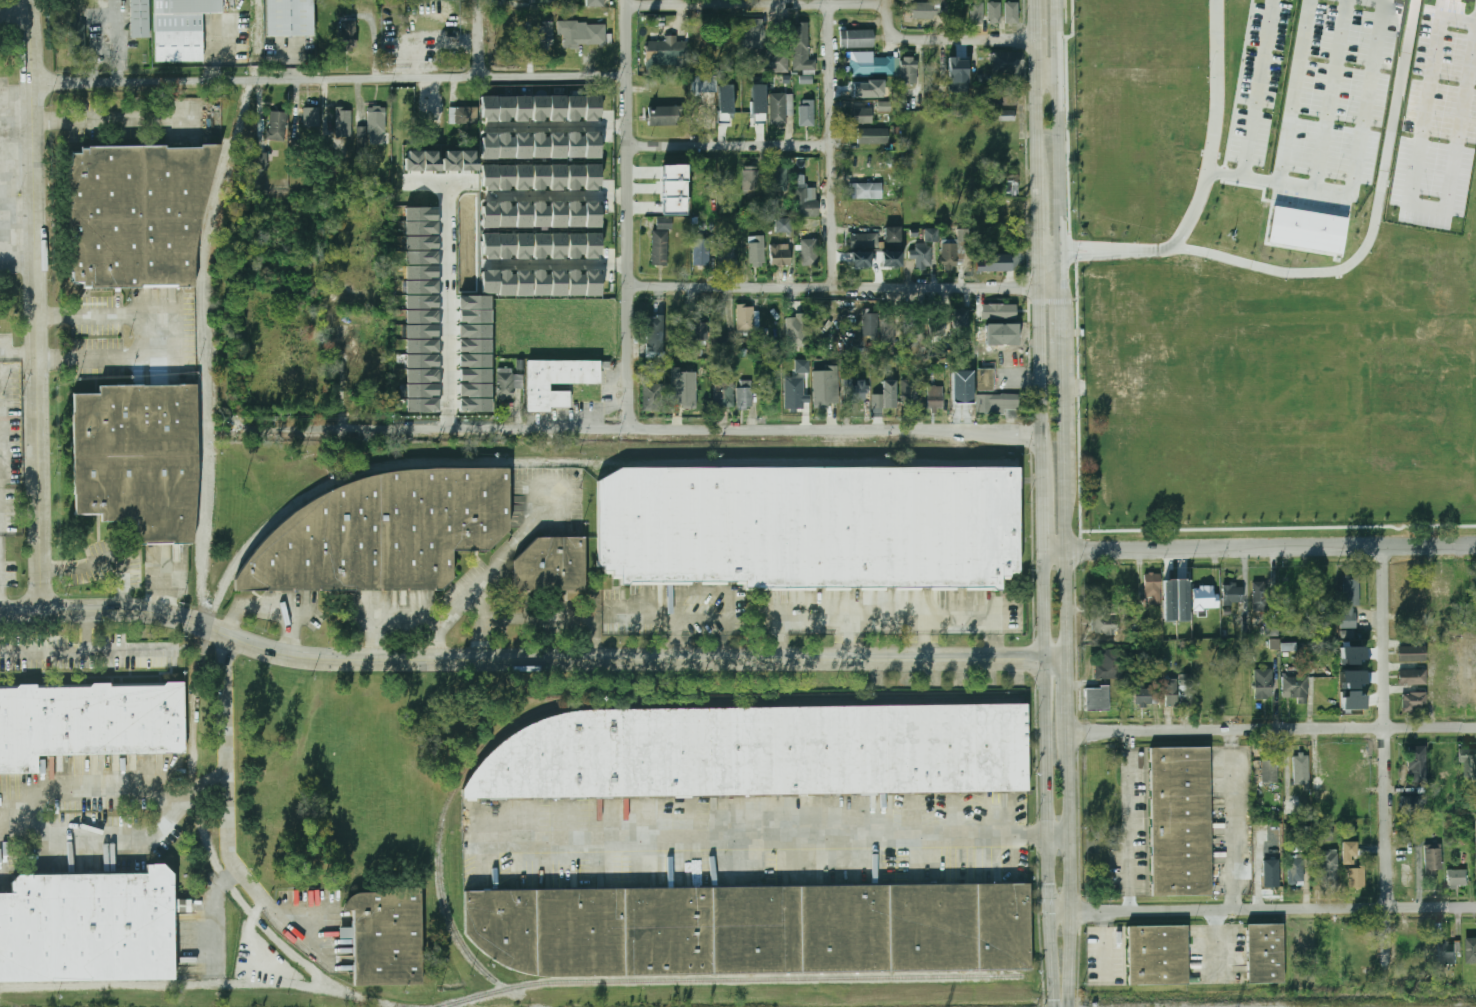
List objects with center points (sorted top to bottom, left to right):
building: (525, 0)
building: (594, 3)
road: (888, 3)
road: (758, 5)
building: (187, 6)
building: (438, 9)
building: (922, 11)
building: (976, 12)
building: (994, 13)
building: (1012, 13)
building: (139, 18)
building: (291, 18)
road: (1036, 19)
building: (583, 34)
building: (753, 34)
building: (544, 35)
building: (348, 36)
building: (178, 38)
road: (481, 38)
building: (857, 38)
road: (949, 40)
building: (714, 48)
building: (801, 48)
road: (1267, 49)
road: (1377, 53)
building: (667, 54)
road: (1302, 54)
road: (1036, 56)
road: (1337, 57)
road: (1434, 61)
building: (774, 62)
building: (872, 65)
building: (1008, 65)
building: (909, 71)
building: (958, 71)
road: (473, 78)
road: (175, 81)
building: (703, 84)
road: (1469, 90)
building: (726, 105)
building: (505, 107)
building: (522, 107)
building: (557, 107)
building: (574, 107)
building: (592, 107)
building: (489, 108)
building: (540, 108)
building: (778, 109)
building: (753, 112)
building: (807, 113)
building: (463, 115)
building: (663, 115)
building: (861, 115)
building: (1004, 115)
building: (312, 118)
building: (344, 123)
road: (1038, 125)
road: (1214, 125)
building: (277, 126)
building: (376, 126)
road: (561, 126)
building: (874, 136)
road: (1060, 143)
building: (557, 145)
building: (574, 145)
building: (592, 145)
building: (490, 146)
building: (505, 146)
building: (523, 146)
building: (540, 146)
road: (732, 146)
road: (834, 146)
building: (261, 161)
building: (413, 161)
building: (431, 161)
building: (451, 161)
building: (468, 161)
building: (505, 176)
building: (540, 176)
building: (557, 176)
building: (575, 176)
building: (592, 176)
building: (490, 177)
building: (523, 177)
building: (751, 179)
building: (778, 179)
building: (673, 190)
building: (865, 190)
road: (559, 195)
building: (805, 204)
building: (139, 213)
building: (420, 214)
building: (505, 214)
building: (523, 214)
building: (540, 214)
building: (592, 214)
road: (629, 214)
building: (490, 215)
building: (558, 215)
building: (575, 215)
building: (664, 223)
building: (783, 225)
building: (420, 228)
building: (1305, 229)
road: (1038, 231)
building: (930, 235)
building: (963, 235)
building: (893, 236)
building: (864, 241)
building: (420, 242)
building: (540, 244)
building: (558, 244)
building: (490, 245)
building: (506, 245)
building: (523, 245)
building: (575, 245)
building: (592, 245)
road: (1067, 246)
building: (660, 248)
building: (701, 253)
building: (726, 253)
building: (757, 253)
building: (810, 253)
road: (1137, 253)
building: (780, 255)
building: (922, 256)
building: (949, 256)
building: (420, 257)
road: (1066, 257)
building: (993, 263)
road: (556, 264)
building: (420, 271)
building: (489, 281)
building: (506, 283)
building: (523, 283)
building: (558, 283)
building: (576, 283)
building: (593, 283)
building: (420, 286)
road: (844, 288)
building: (421, 302)
road: (37, 303)
road: (225, 307)
building: (475, 309)
road: (450, 311)
building: (999, 311)
building: (421, 316)
building: (745, 317)
building: (961, 319)
road: (1061, 322)
building: (870, 326)
building: (888, 327)
building: (937, 327)
building: (796, 329)
building: (909, 329)
building: (421, 331)
building: (475, 331)
building: (700, 332)
road: (151, 333)
building: (654, 336)
building: (722, 343)
building: (475, 345)
building: (421, 346)
building: (421, 360)
building: (475, 360)
building: (802, 366)
railway: (202, 371)
building: (422, 375)
building: (556, 379)
building: (985, 379)
building: (508, 383)
building: (683, 388)
building: (723, 389)
building: (421, 390)
building: (475, 390)
building: (854, 390)
road: (1039, 390)
building: (908, 391)
building: (795, 393)
building: (745, 394)
building: (885, 396)
building: (654, 398)
building: (935, 398)
building: (989, 402)
road: (633, 429)
building: (139, 460)
railway: (551, 462)
road: (1065, 507)
road: (1045, 522)
building: (809, 528)
building: (386, 532)
railway: (206, 543)
road: (1261, 550)
road: (103, 560)
building: (551, 566)
building: (1172, 583)
building: (1440, 588)
building: (1153, 589)
building: (1204, 592)
road: (0, 595)
building: (1232, 595)
building: (1260, 596)
building: (1350, 602)
road: (809, 612)
road: (269, 615)
building: (1108, 626)
road: (84, 629)
road: (374, 630)
road: (431, 631)
road: (674, 635)
road: (776, 635)
road: (924, 635)
road: (845, 636)
road: (993, 636)
building: (1288, 646)
road: (83, 652)
building: (1410, 652)
building: (1436, 655)
building: (1352, 657)
road: (529, 659)
building: (1109, 664)
building: (1411, 677)
building: (1355, 682)
building: (1263, 684)
building: (1296, 687)
building: (1446, 687)
building: (1213, 689)
building: (1178, 692)
building: (1146, 697)
building: (1097, 699)
building: (1412, 701)
railway: (620, 707)
road: (1069, 707)
building: (90, 722)
road: (1385, 728)
road: (1273, 729)
building: (761, 753)
building: (1468, 763)
building: (1333, 764)
building: (1419, 765)
road: (1046, 768)
building: (1301, 769)
building: (1270, 772)
road: (227, 783)
road: (109, 789)
building: (1414, 804)
building: (1181, 820)
road: (1231, 820)
road: (1128, 821)
road: (1061, 837)
road: (98, 841)
road: (760, 841)
building: (1350, 853)
building: (1433, 862)
road: (1074, 869)
building: (1329, 869)
building: (1296, 871)
building: (1271, 875)
building: (1357, 878)
building: (1457, 878)
road: (1263, 909)
road: (210, 911)
building: (87, 926)
building: (752, 930)
building: (387, 937)
building: (1357, 943)
building: (1415, 945)
building: (1447, 950)
building: (1471, 950)
building: (1265, 954)
building: (1157, 955)
building: (1331, 959)
railway: (732, 979)
railway: (198, 983)
road: (1064, 992)
road: (1058, 994)
railway: (6, 1003)
railway: (401, 1006)
road: (1061, 1006)

